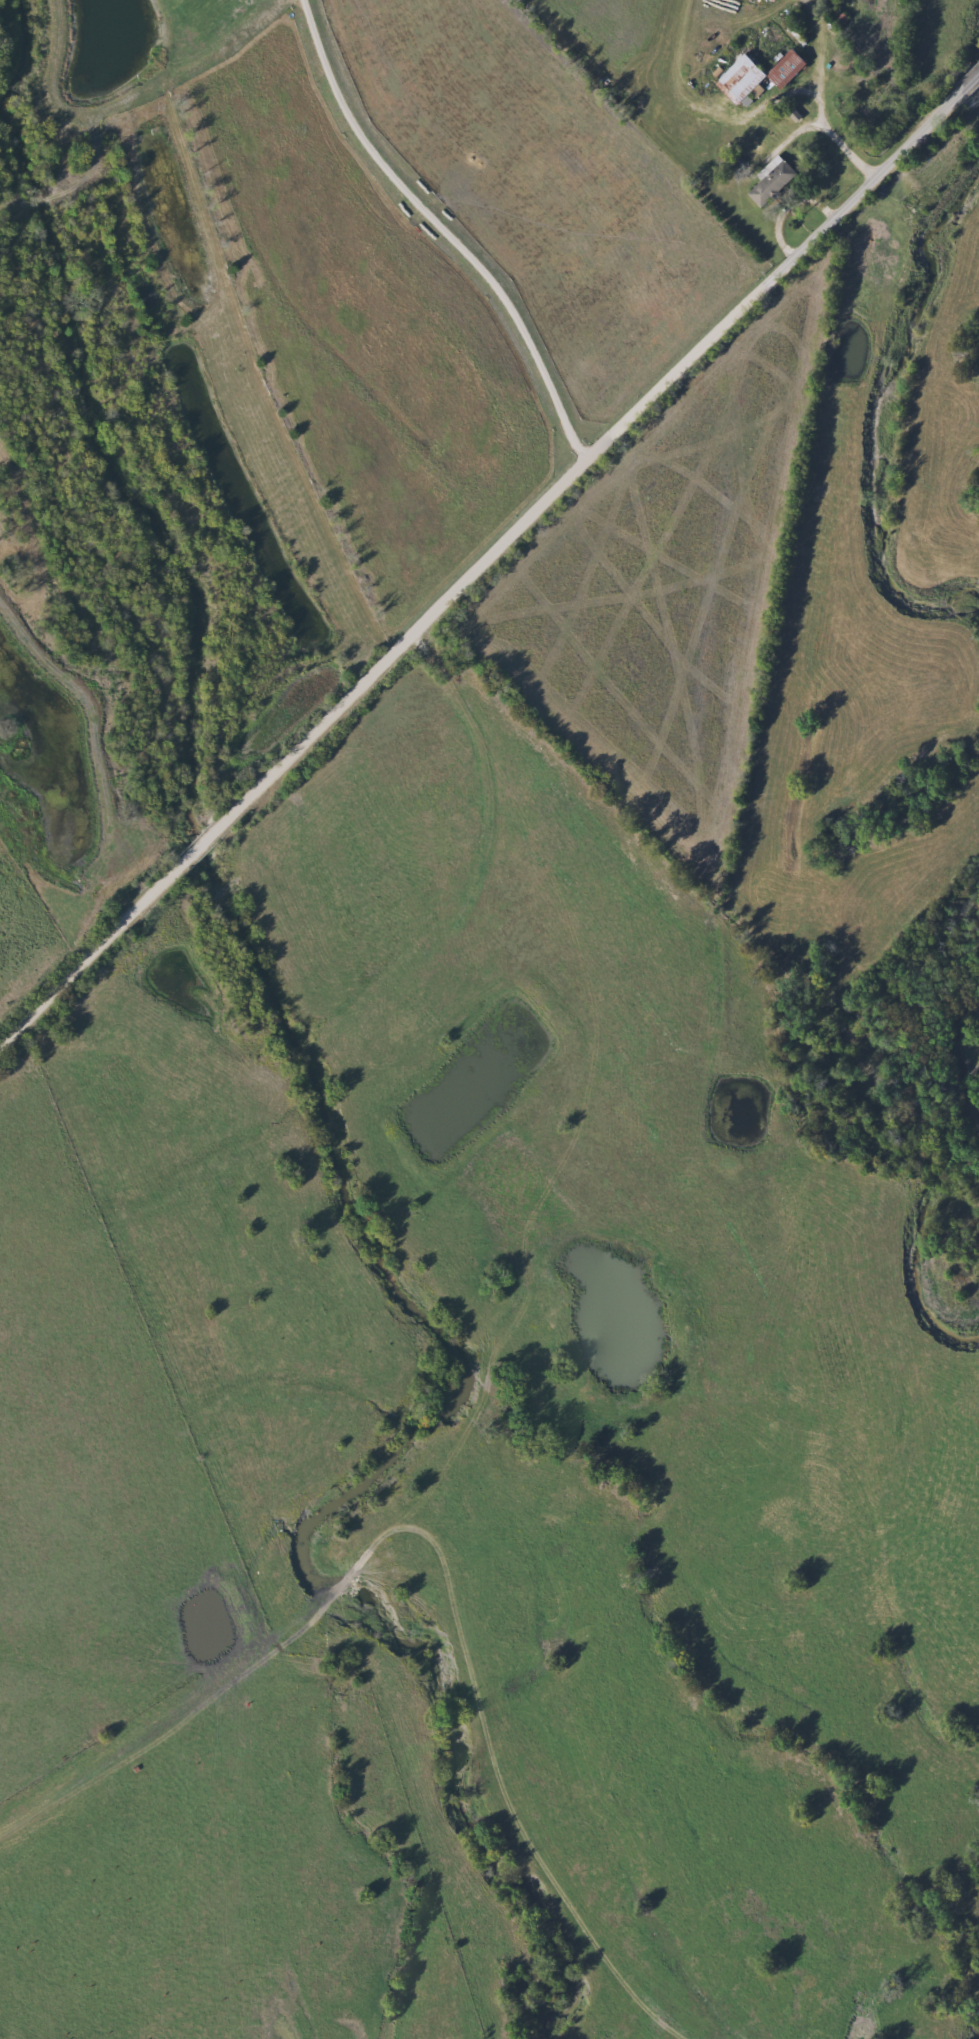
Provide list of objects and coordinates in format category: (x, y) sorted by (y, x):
building: (791, 70)
building: (748, 81)
road: (970, 84)
road: (818, 97)
building: (776, 186)
road: (441, 231)
road: (479, 567)

